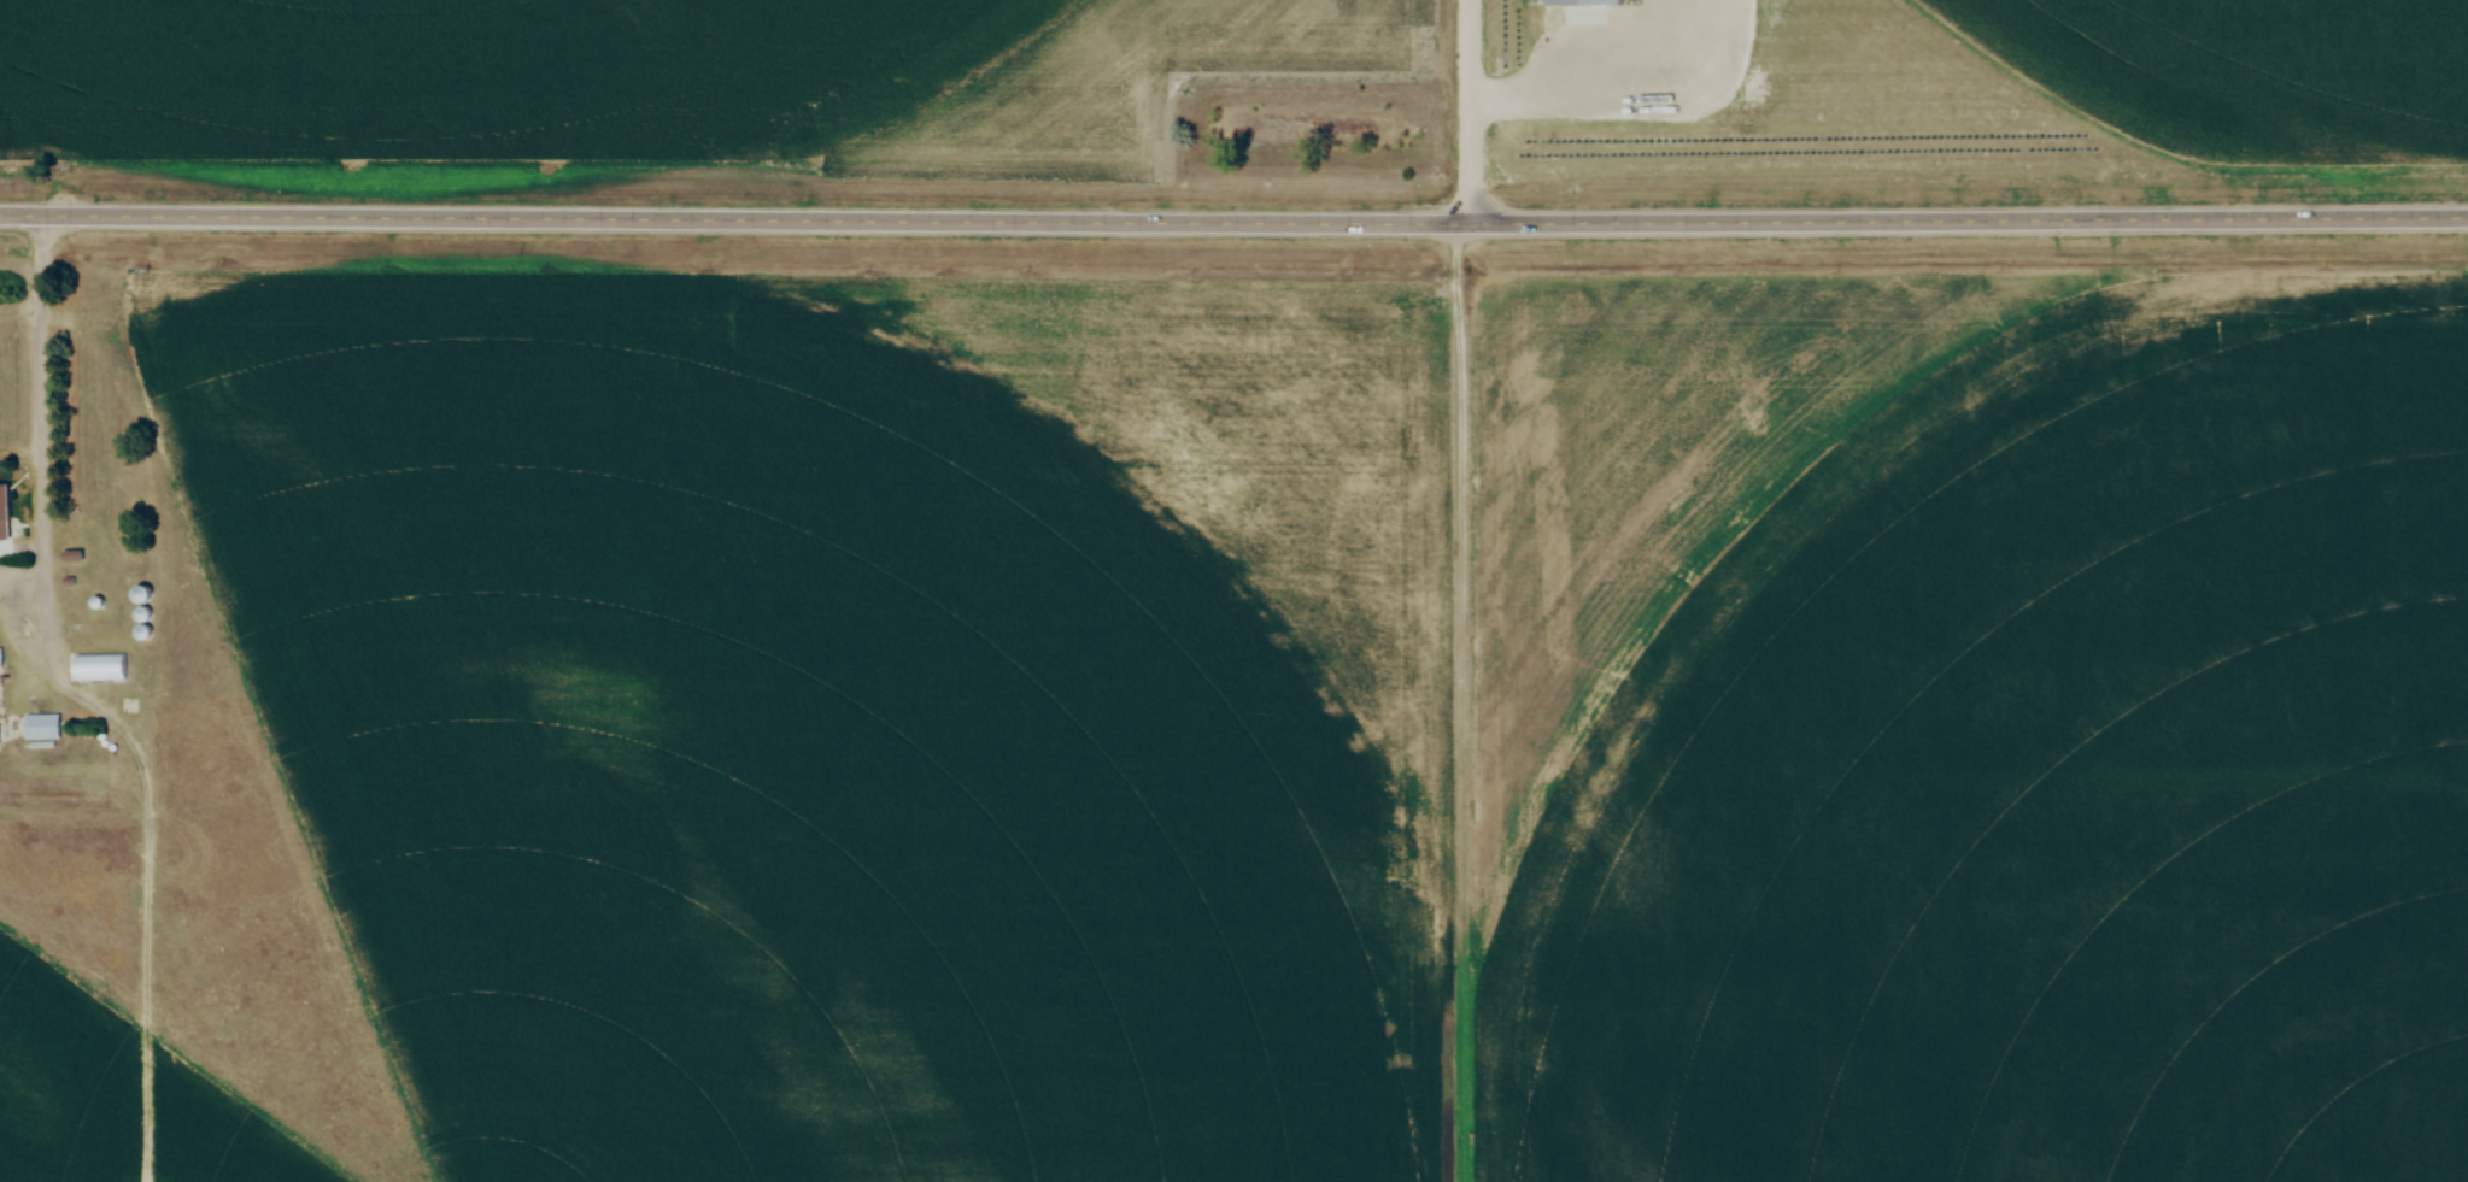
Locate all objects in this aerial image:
road: (1470, 111)
road: (1233, 220)
road: (43, 390)
building: (4, 513)
building: (42, 725)

